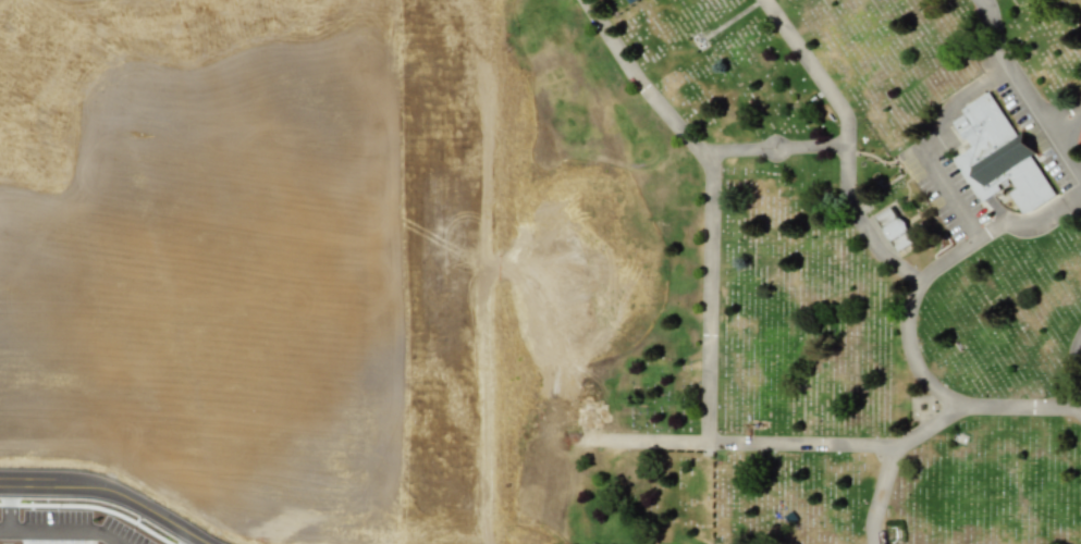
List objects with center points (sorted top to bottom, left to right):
road: (1017, 63)
road: (640, 78)
road: (844, 134)
road: (936, 138)
road: (1061, 146)
building: (998, 156)
road: (861, 225)
building: (895, 228)
park: (828, 274)
road: (708, 297)
road: (906, 319)
road: (1067, 370)
road: (742, 443)
road: (889, 460)
road: (106, 494)
road: (4, 531)
road: (41, 533)
road: (194, 542)

